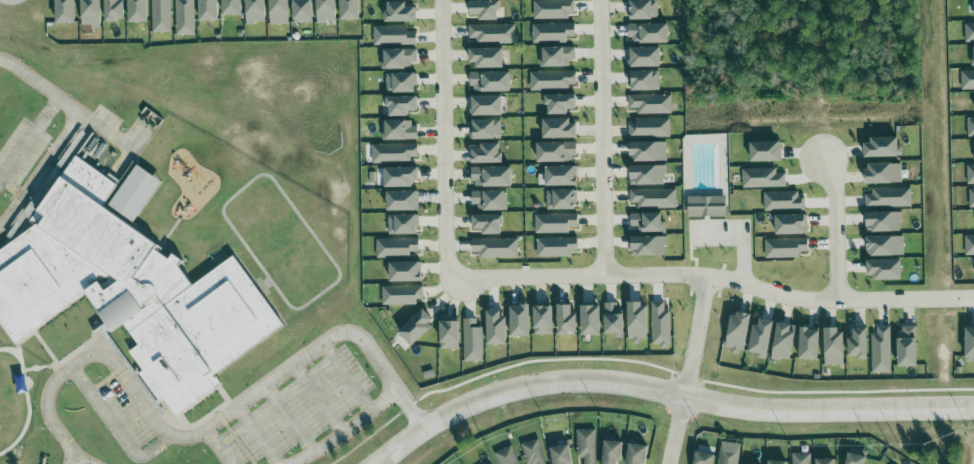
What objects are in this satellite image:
building: (232, 7)
building: (553, 9)
building: (114, 10)
building: (208, 10)
building: (350, 10)
building: (485, 10)
building: (643, 10)
building: (65, 11)
building: (138, 11)
building: (255, 11)
building: (302, 11)
building: (326, 11)
building: (279, 12)
building: (90, 13)
building: (400, 13)
building: (161, 16)
building: (184, 17)
building: (492, 33)
building: (552, 33)
building: (969, 33)
building: (648, 34)
building: (393, 36)
building: (557, 56)
building: (972, 56)
building: (486, 58)
building: (645, 58)
building: (398, 59)
building: (552, 80)
building: (967, 80)
building: (645, 81)
building: (490, 82)
building: (400, 83)
road: (66, 102)
building: (560, 104)
building: (650, 104)
building: (401, 106)
building: (486, 106)
building: (650, 128)
building: (970, 128)
building: (560, 129)
building: (487, 130)
building: (400, 131)
road: (603, 137)
road: (31, 143)
road: (447, 144)
building: (973, 144)
building: (881, 148)
building: (649, 152)
building: (766, 152)
building: (393, 153)
building: (556, 153)
building: (487, 154)
parking lot: (23, 155)
road: (41, 170)
building: (883, 174)
building: (970, 175)
building: (648, 176)
building: (401, 177)
building: (492, 177)
building: (559, 177)
building: (762, 178)
building: (653, 198)
building: (889, 198)
building: (971, 199)
building: (489, 200)
building: (561, 200)
building: (402, 201)
building: (784, 201)
building: (707, 207)
building: (884, 222)
building: (555, 223)
building: (648, 223)
building: (488, 224)
building: (403, 225)
building: (791, 225)
road: (837, 229)
building: (969, 245)
building: (495, 247)
building: (557, 247)
building: (648, 247)
building: (885, 247)
building: (396, 248)
building: (785, 248)
building: (884, 270)
building: (405, 272)
road: (588, 275)
building: (132, 281)
building: (402, 295)
road: (839, 301)
building: (613, 320)
building: (520, 321)
building: (543, 321)
building: (566, 321)
building: (591, 321)
building: (638, 323)
building: (660, 325)
building: (417, 328)
building: (496, 328)
building: (738, 333)
road: (695, 335)
building: (449, 336)
building: (761, 339)
building: (472, 341)
building: (784, 342)
building: (858, 344)
building: (970, 344)
building: (809, 345)
building: (834, 347)
building: (907, 347)
building: (881, 350)
road: (347, 378)
road: (667, 392)
road: (321, 399)
parking lot: (301, 410)
parking lot: (125, 411)
road: (290, 419)
road: (208, 427)
road: (676, 429)
road: (117, 431)
road: (347, 432)
road: (260, 434)
building: (586, 445)
road: (217, 446)
building: (612, 451)
building: (533, 452)
building: (561, 454)
building: (636, 454)
building: (506, 456)
building: (728, 456)
building: (704, 458)
building: (801, 458)
building: (855, 458)
road: (79, 459)
building: (826, 461)
building: (778, 462)

